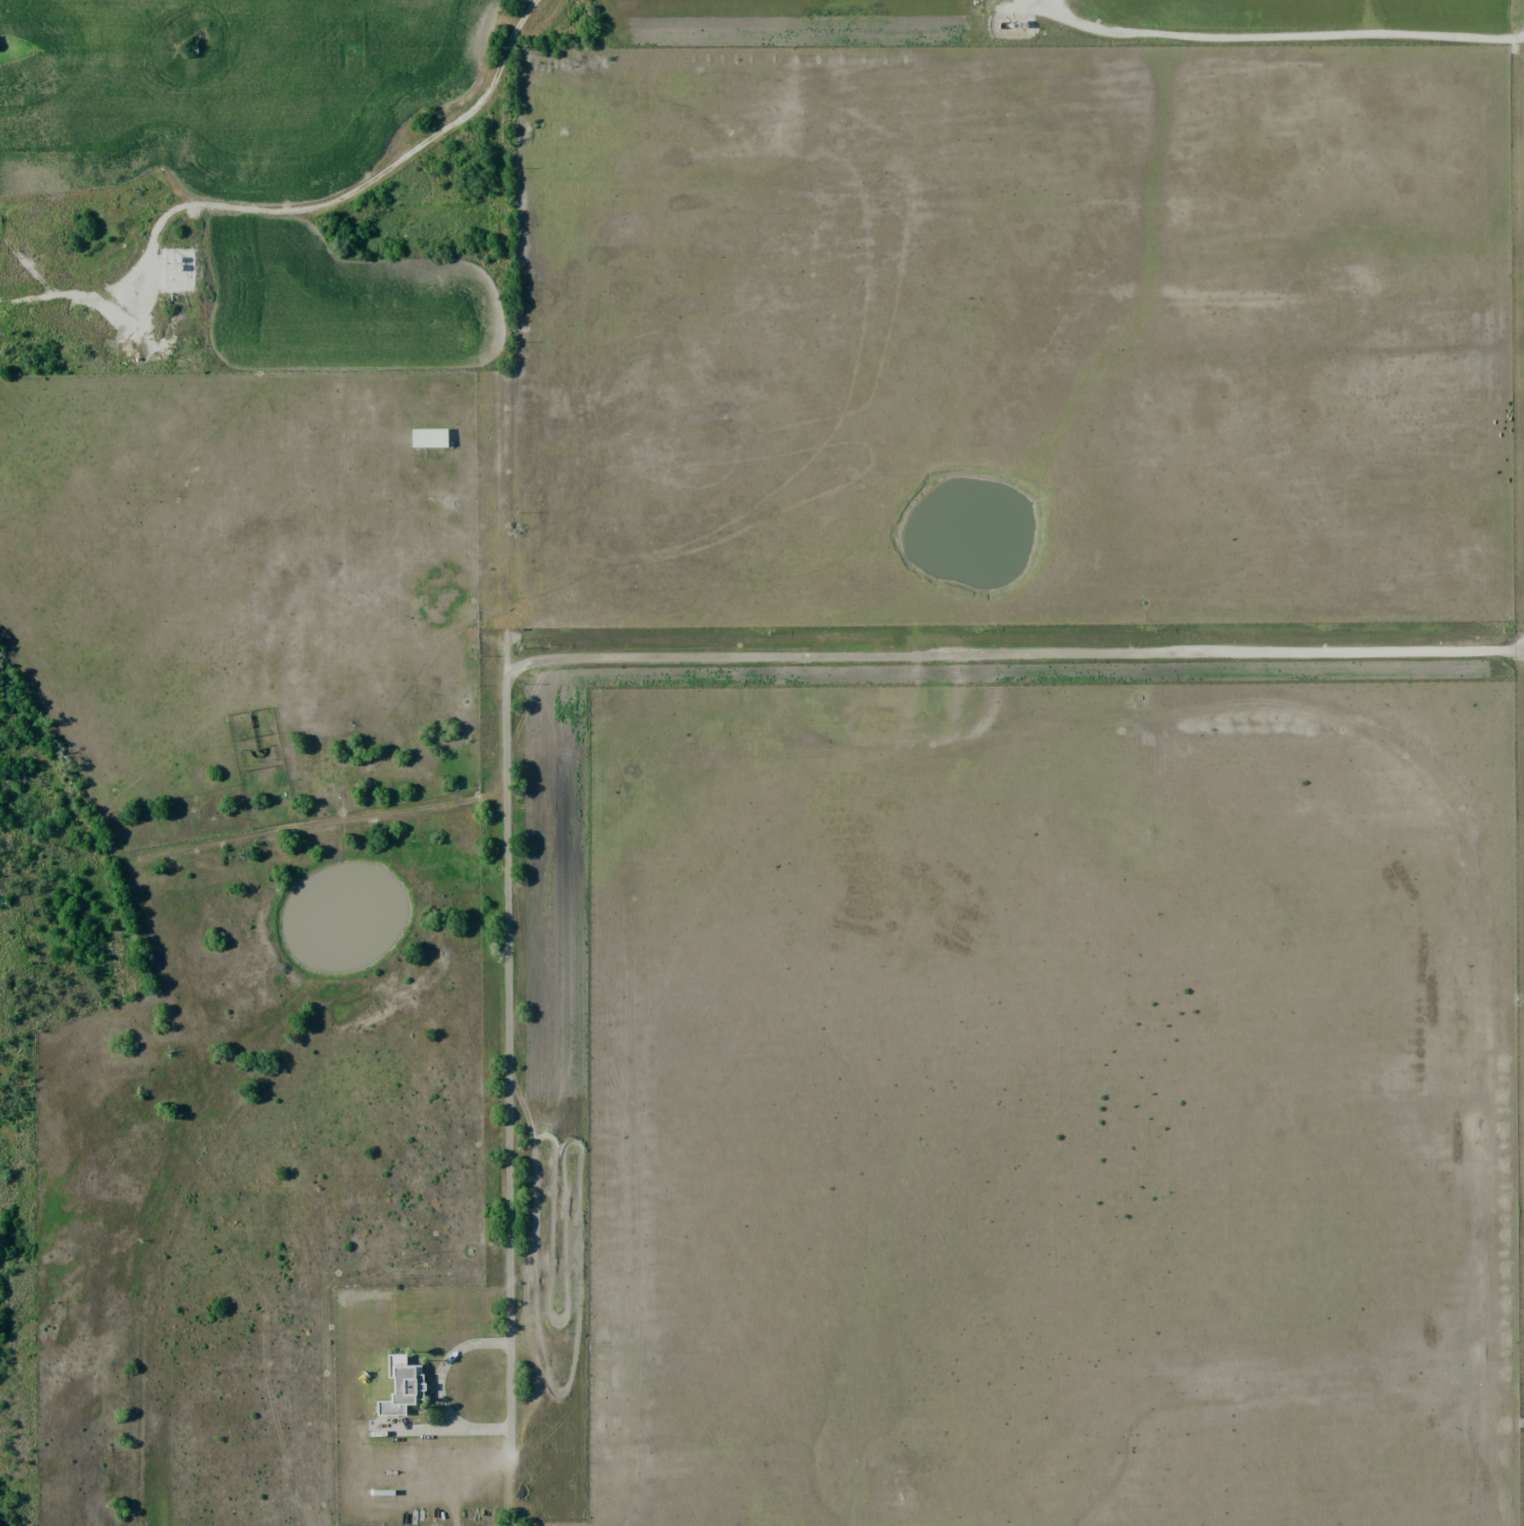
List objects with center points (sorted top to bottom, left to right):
road: (295, 208)
building: (428, 438)
road: (687, 656)
building: (401, 1386)

